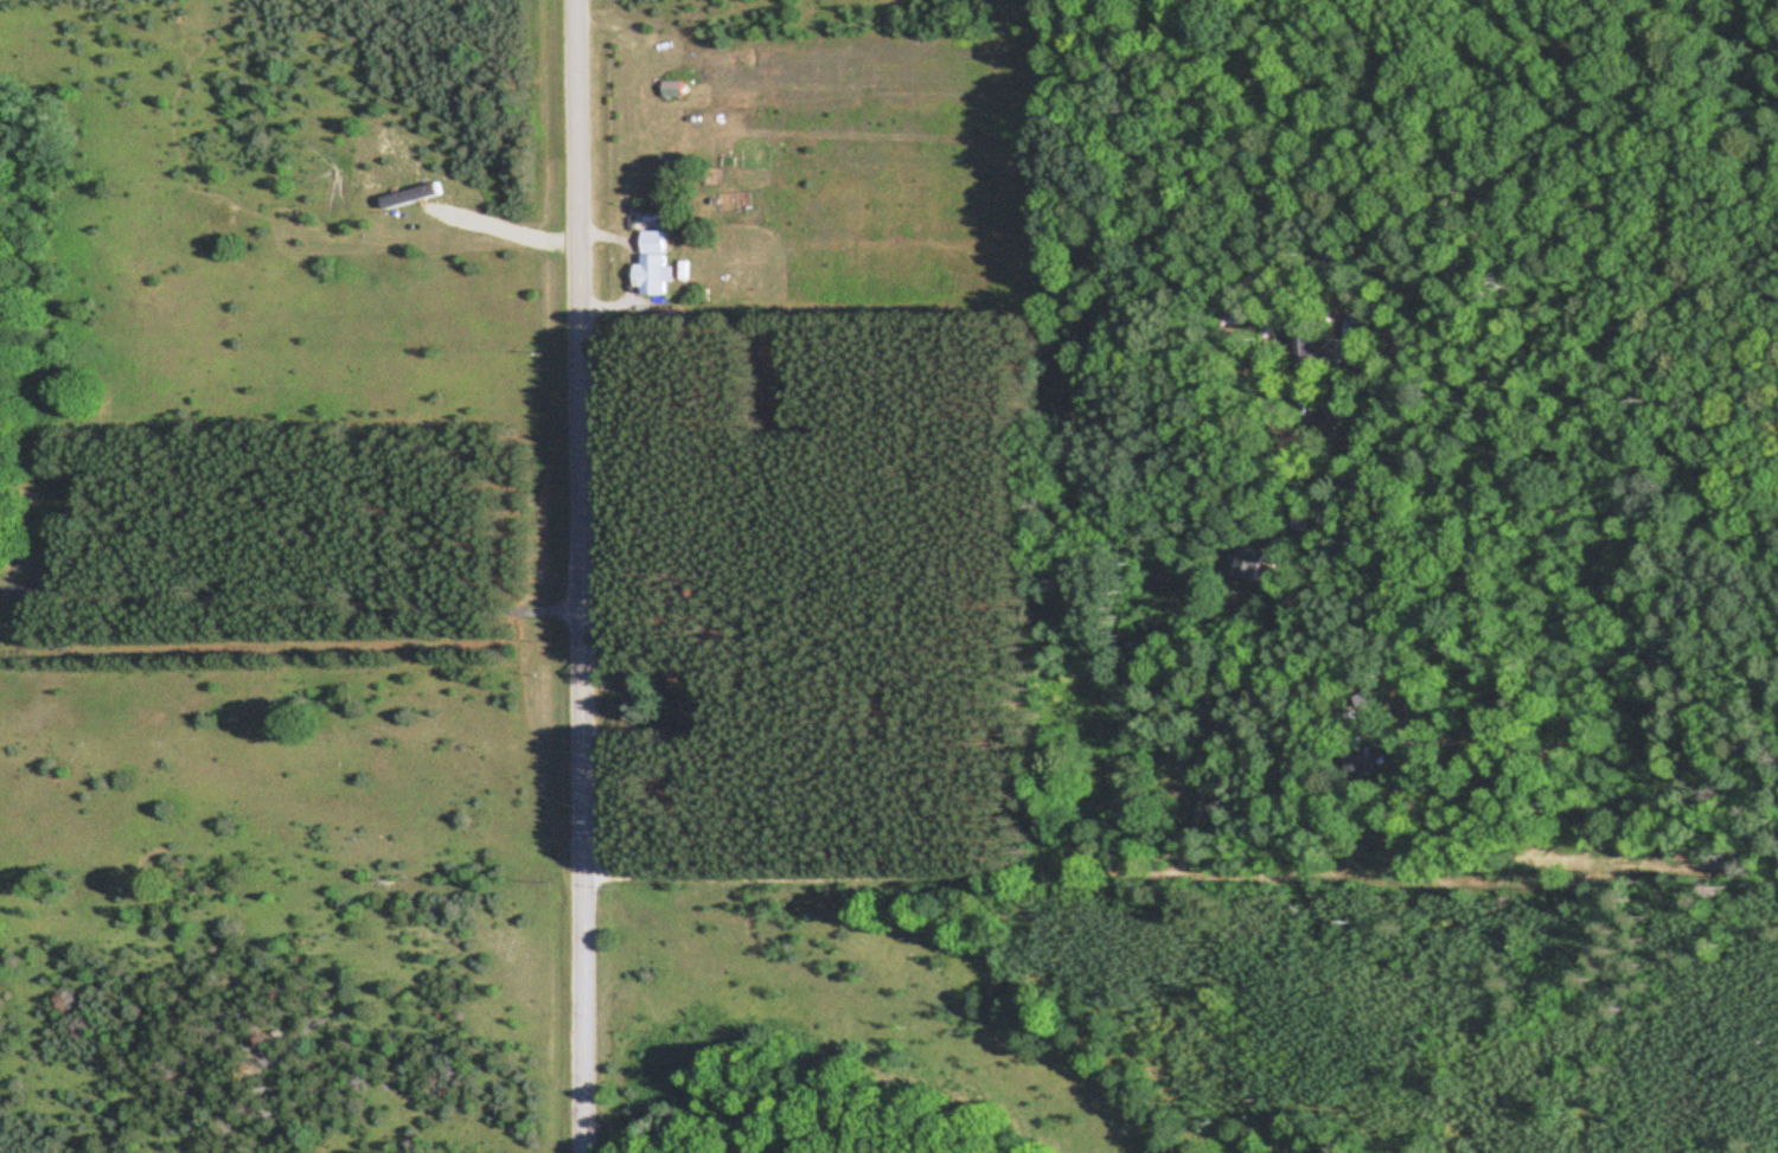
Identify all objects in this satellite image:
building: (669, 89)
building: (648, 264)
building: (1296, 347)
building: (1243, 563)
road: (586, 576)
building: (680, 722)
building: (1352, 761)

